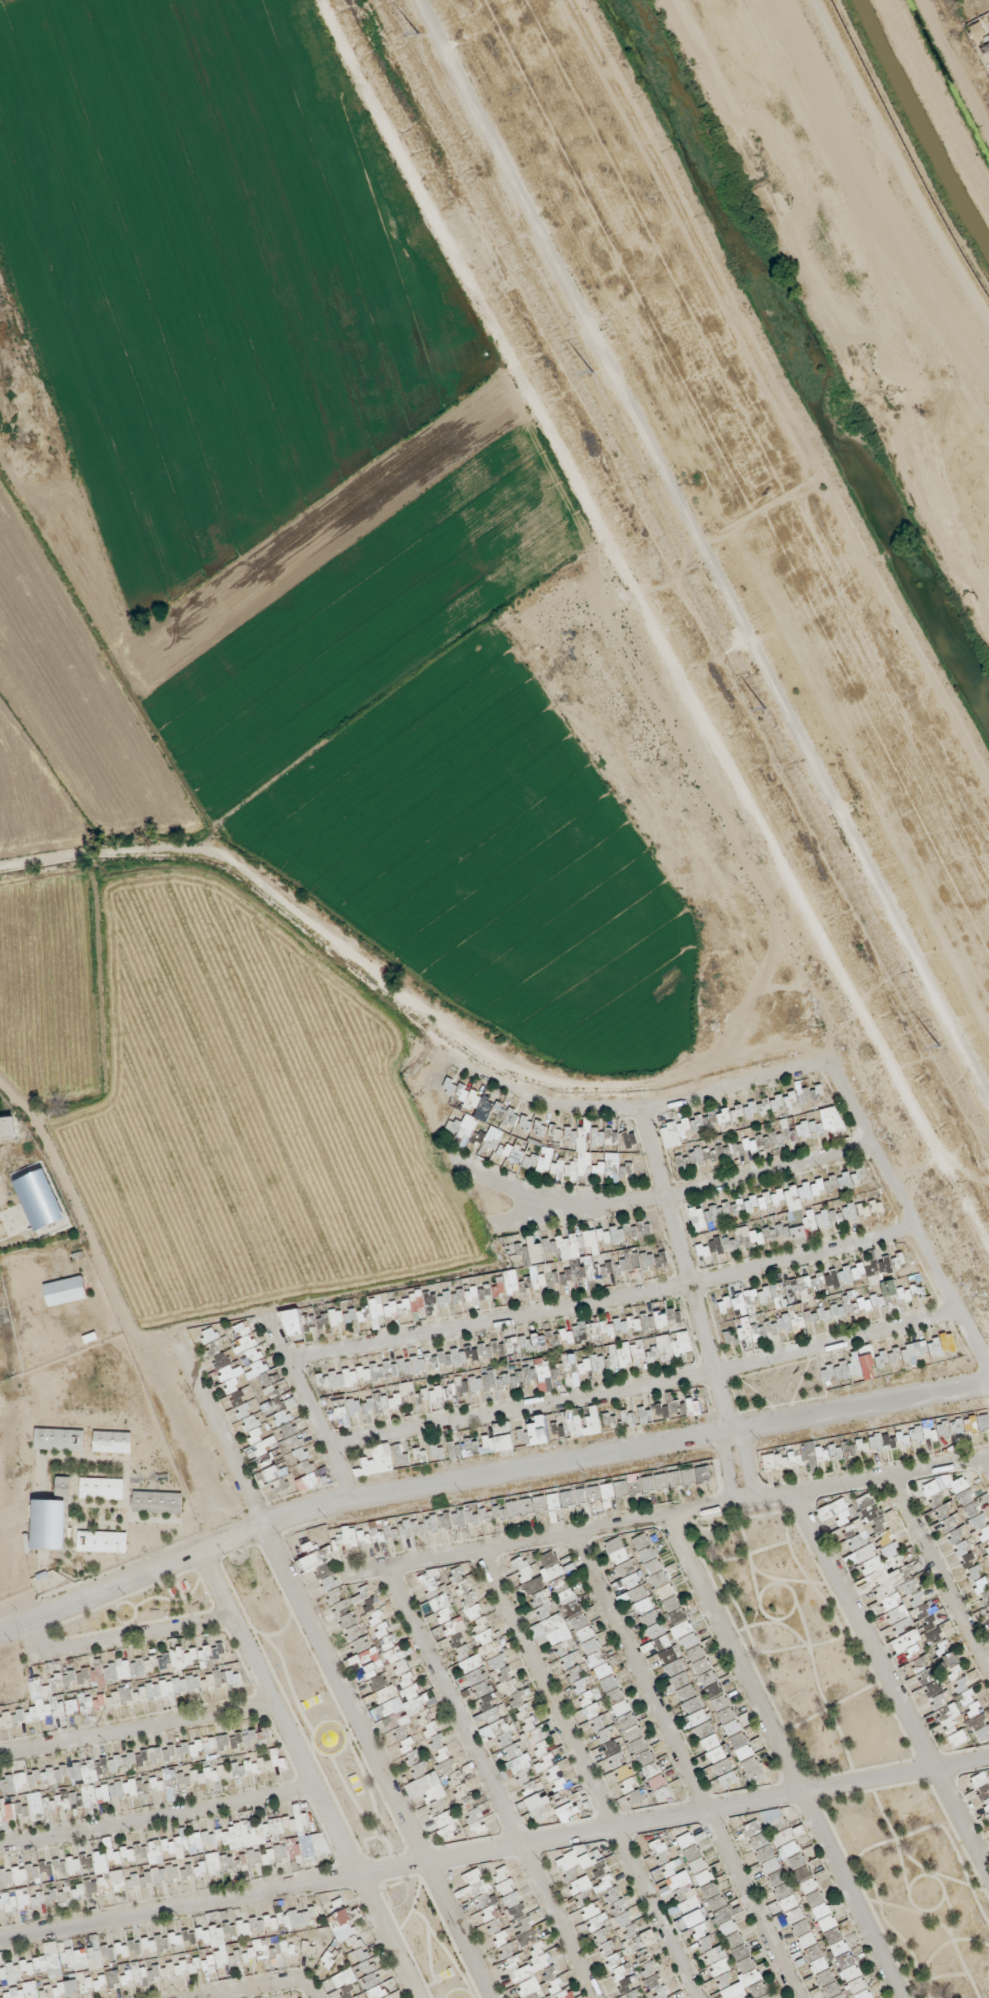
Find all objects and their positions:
power tower: (411, 31)
river: (806, 355)
power tower: (585, 371)
road: (656, 625)
power tower: (757, 710)
power tower: (931, 1048)
road: (430, 1104)
road: (641, 1112)
building: (831, 1122)
road: (505, 1185)
road: (685, 1193)
road: (910, 1227)
building: (574, 1244)
building: (537, 1253)
road: (682, 1262)
building: (886, 1270)
building: (779, 1293)
road: (603, 1304)
building: (351, 1322)
building: (294, 1328)
building: (731, 1339)
building: (235, 1356)
building: (917, 1356)
building: (850, 1375)
road: (645, 1387)
building: (343, 1390)
road: (730, 1421)
road: (723, 1423)
road: (623, 1451)
building: (379, 1464)
road: (745, 1464)
road: (985, 1465)
road: (727, 1468)
building: (277, 1473)
road: (668, 1516)
building: (960, 1525)
building: (861, 1533)
building: (618, 1553)
building: (650, 1565)
building: (552, 1567)
road: (941, 1575)
building: (583, 1629)
road: (889, 1688)
road: (782, 1757)
road: (685, 1765)
road: (494, 1850)
building: (569, 1864)
building: (561, 1989)

